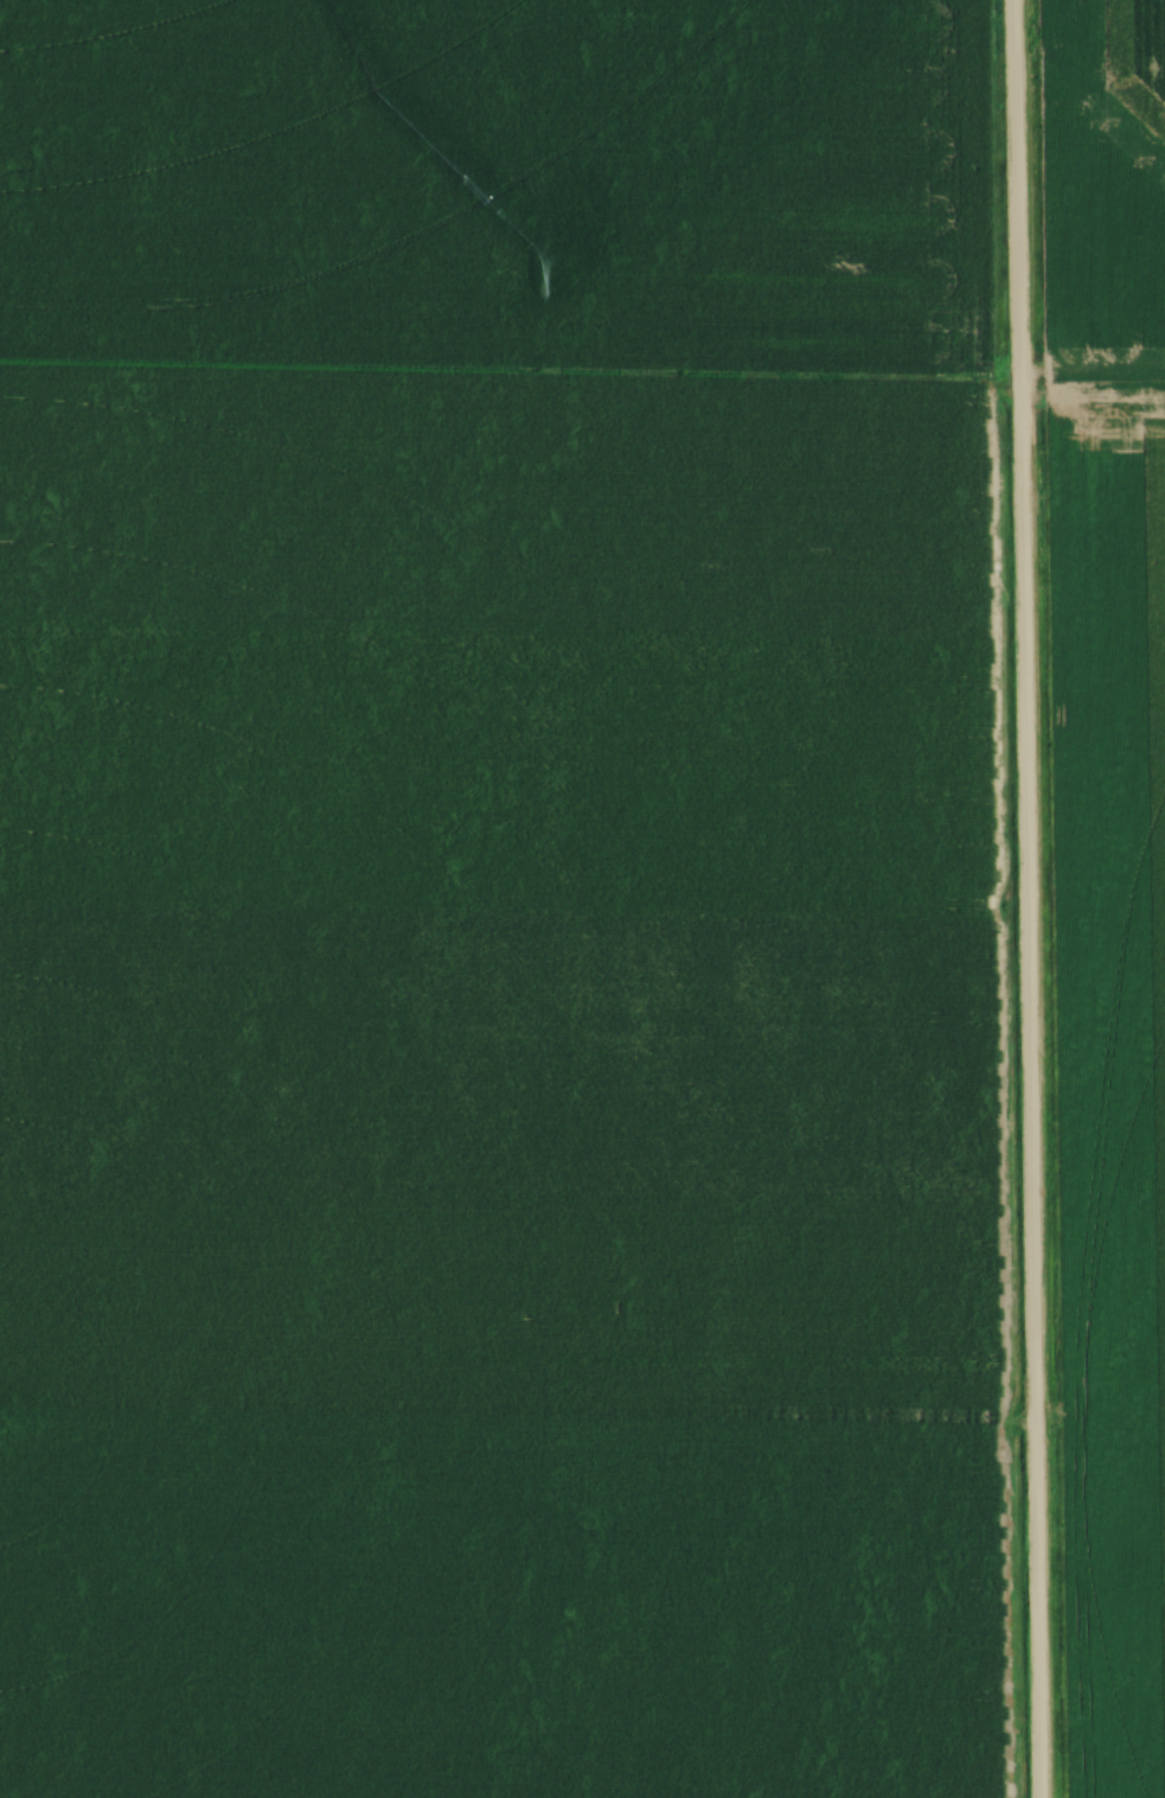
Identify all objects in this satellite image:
road: (1022, 898)

